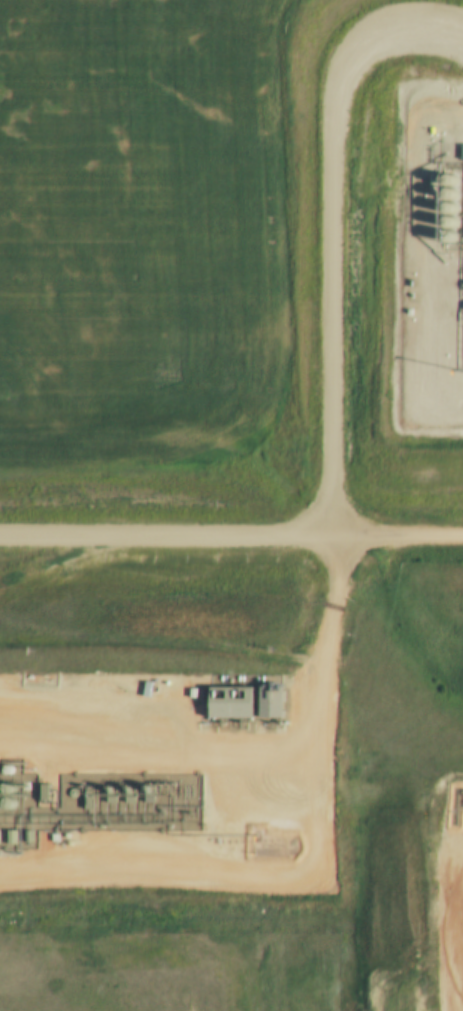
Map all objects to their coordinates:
road: (152, 549)
road: (302, 576)

